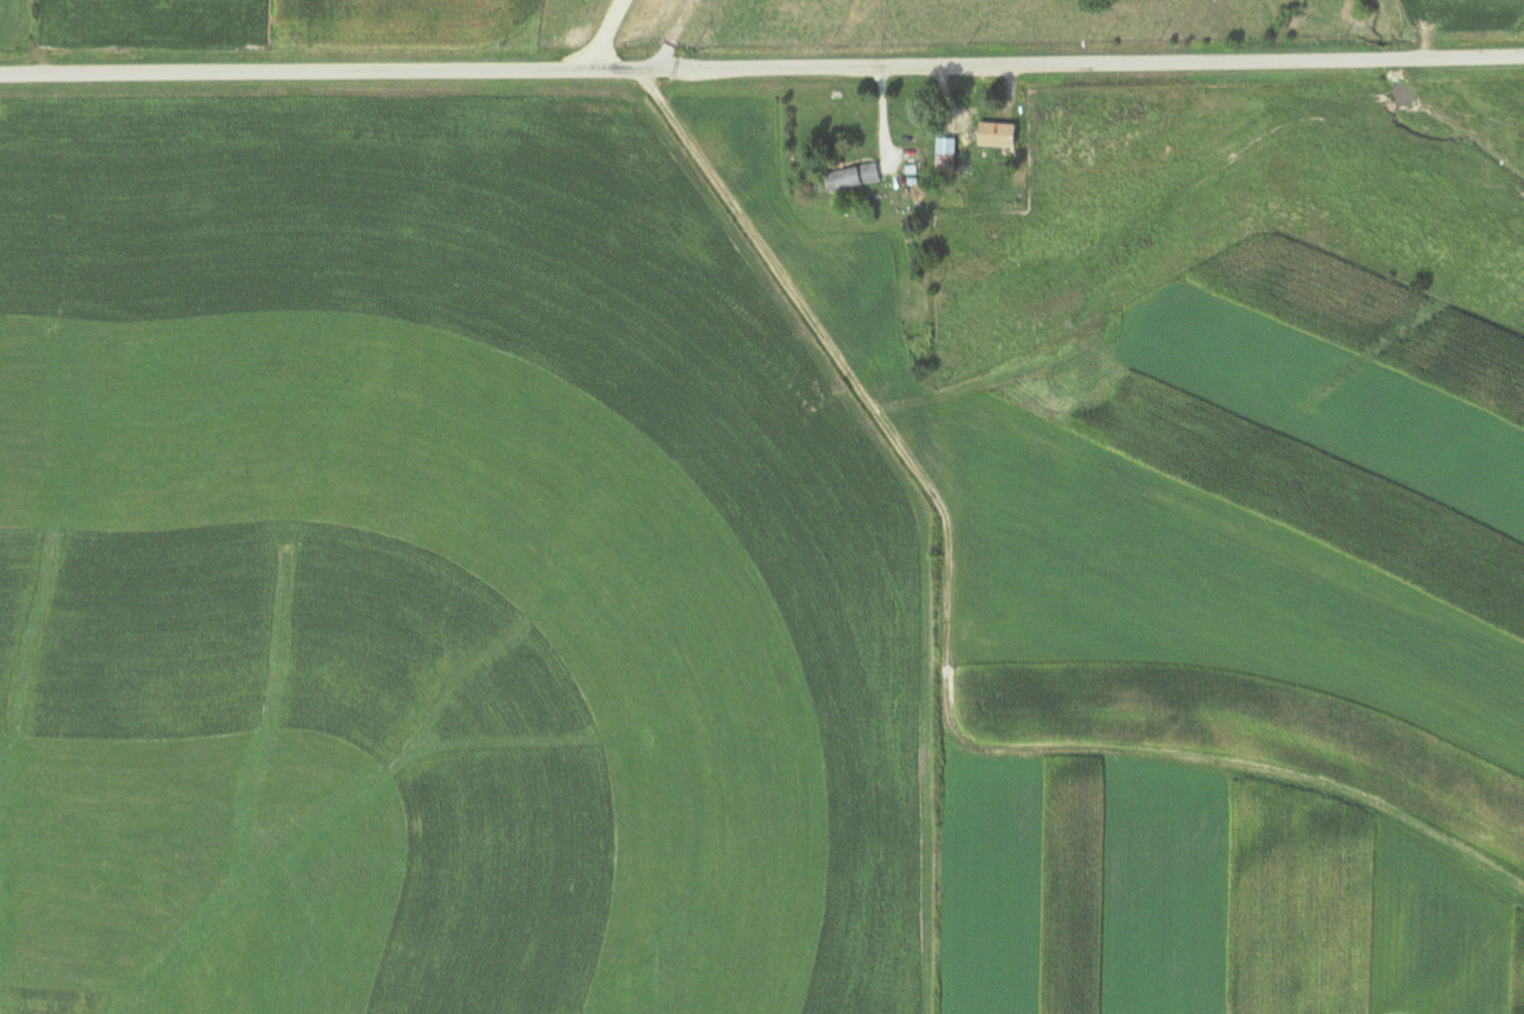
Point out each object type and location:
road: (692, 34)
road: (762, 67)
building: (996, 136)
building: (945, 159)
building: (852, 178)

